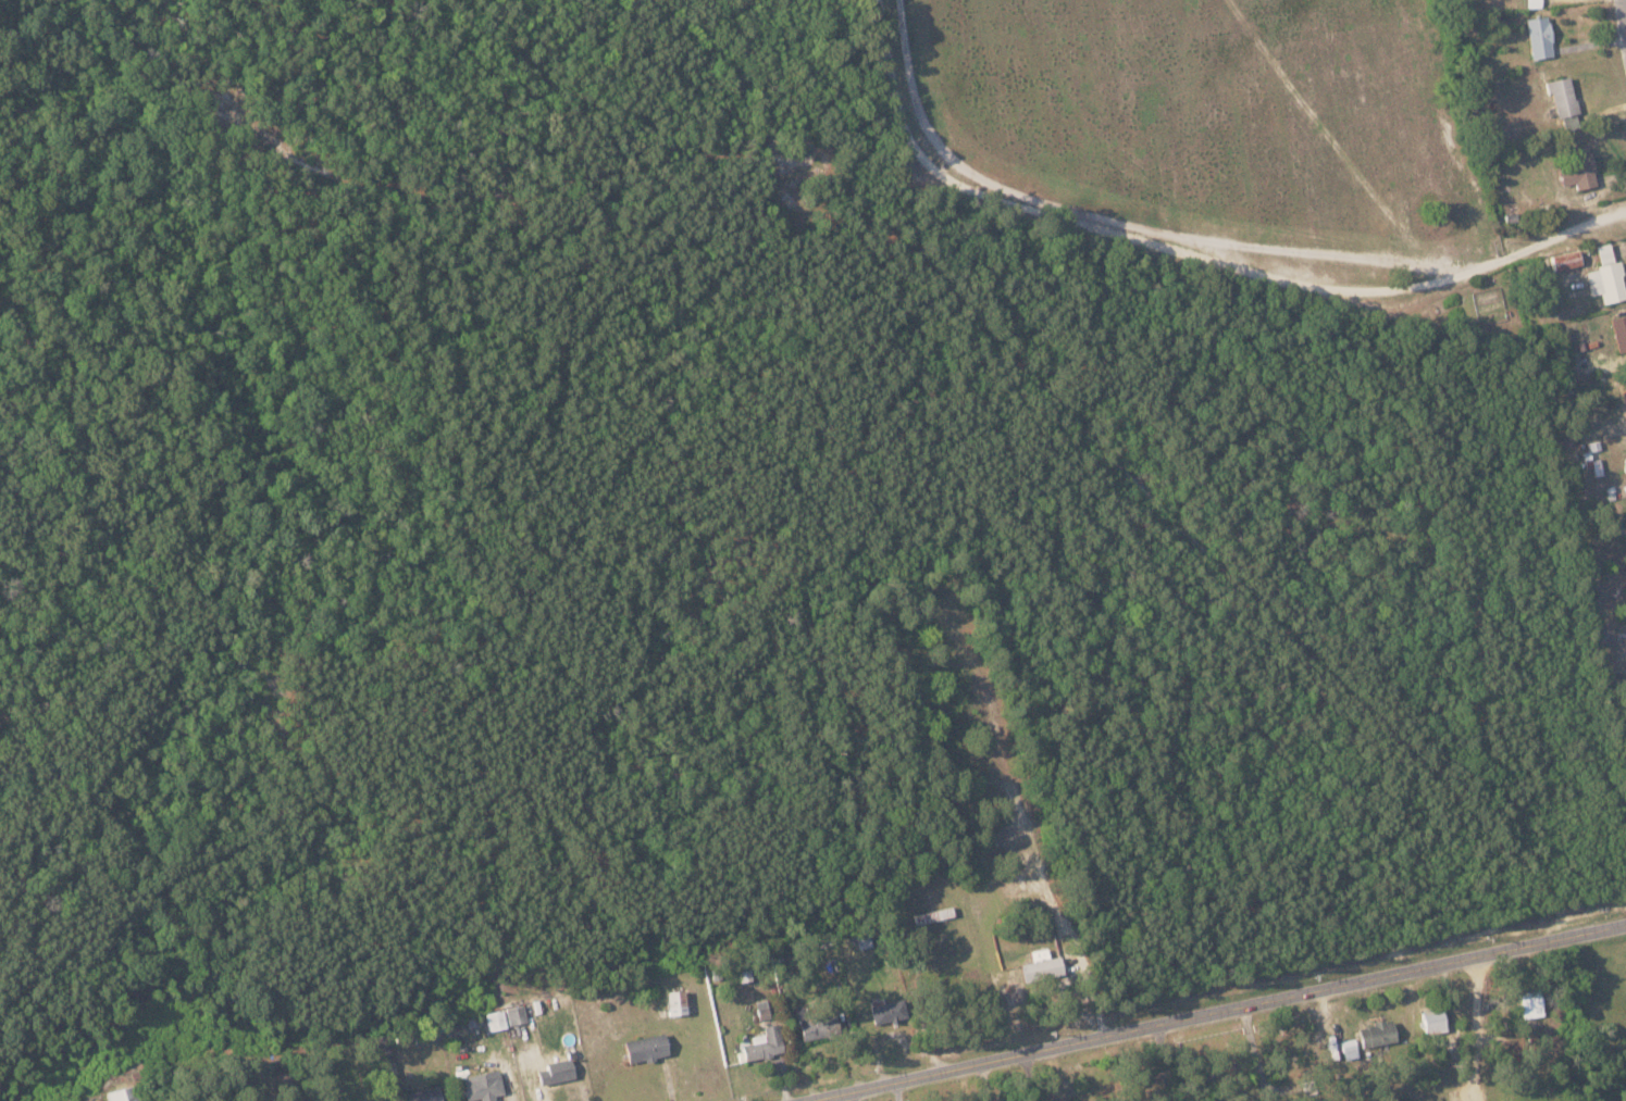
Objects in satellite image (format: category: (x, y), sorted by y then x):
road: (1625, 3)
building: (1540, 36)
building: (1563, 96)
building: (1571, 122)
building: (1579, 167)
road: (1191, 249)
building: (1566, 259)
building: (1608, 275)
building: (1621, 331)
building: (1624, 389)
building: (1042, 966)
building: (677, 1002)
building: (1531, 1004)
building: (889, 1011)
road: (1214, 1012)
building: (517, 1014)
building: (1433, 1018)
building: (496, 1019)
building: (814, 1023)
road: (1475, 1028)
building: (1377, 1033)
building: (764, 1037)
building: (646, 1048)
building: (557, 1071)
building: (483, 1085)
building: (125, 1094)
building: (422, 1094)

